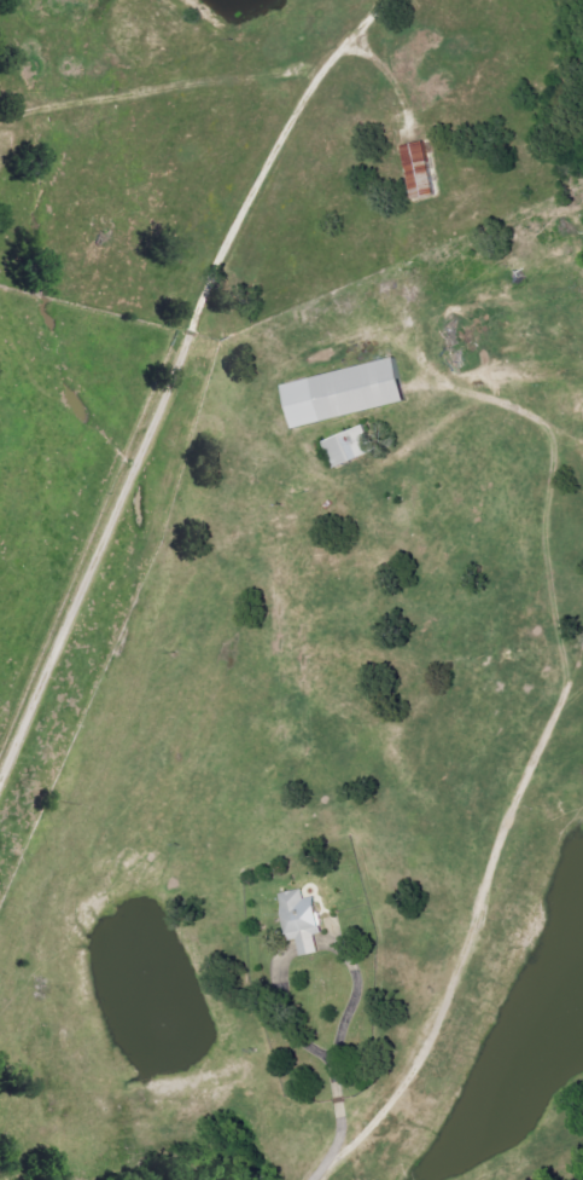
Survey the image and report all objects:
building: (419, 170)
building: (344, 393)
building: (302, 921)

